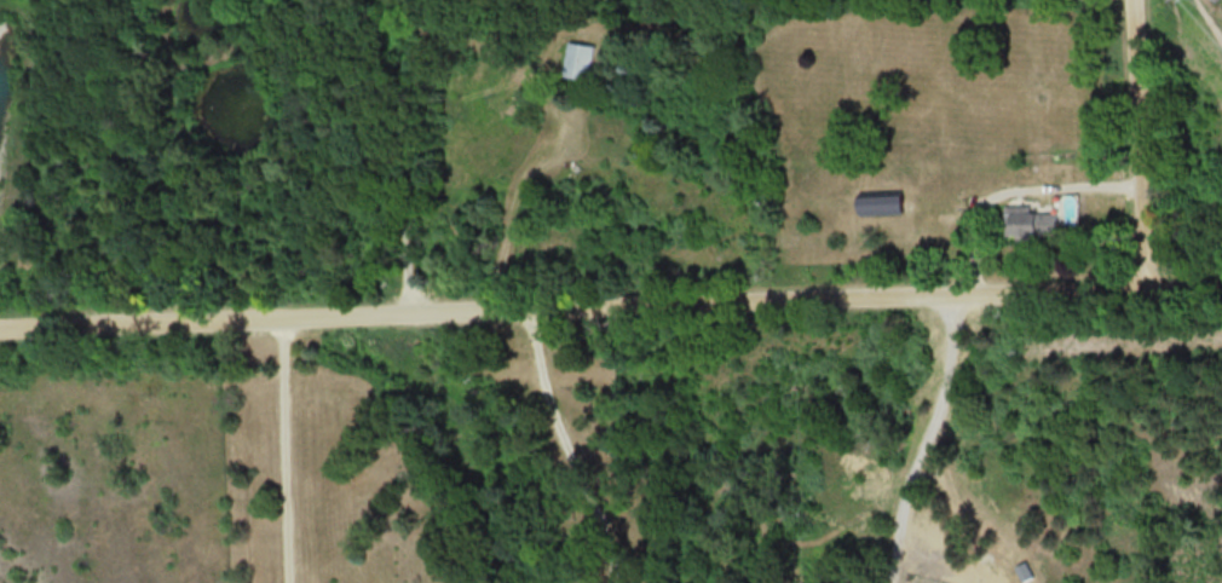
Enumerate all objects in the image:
building: (581, 58)
road: (1146, 140)
road: (1021, 185)
building: (883, 202)
building: (1032, 219)
road: (610, 298)
road: (569, 443)
road: (272, 446)

